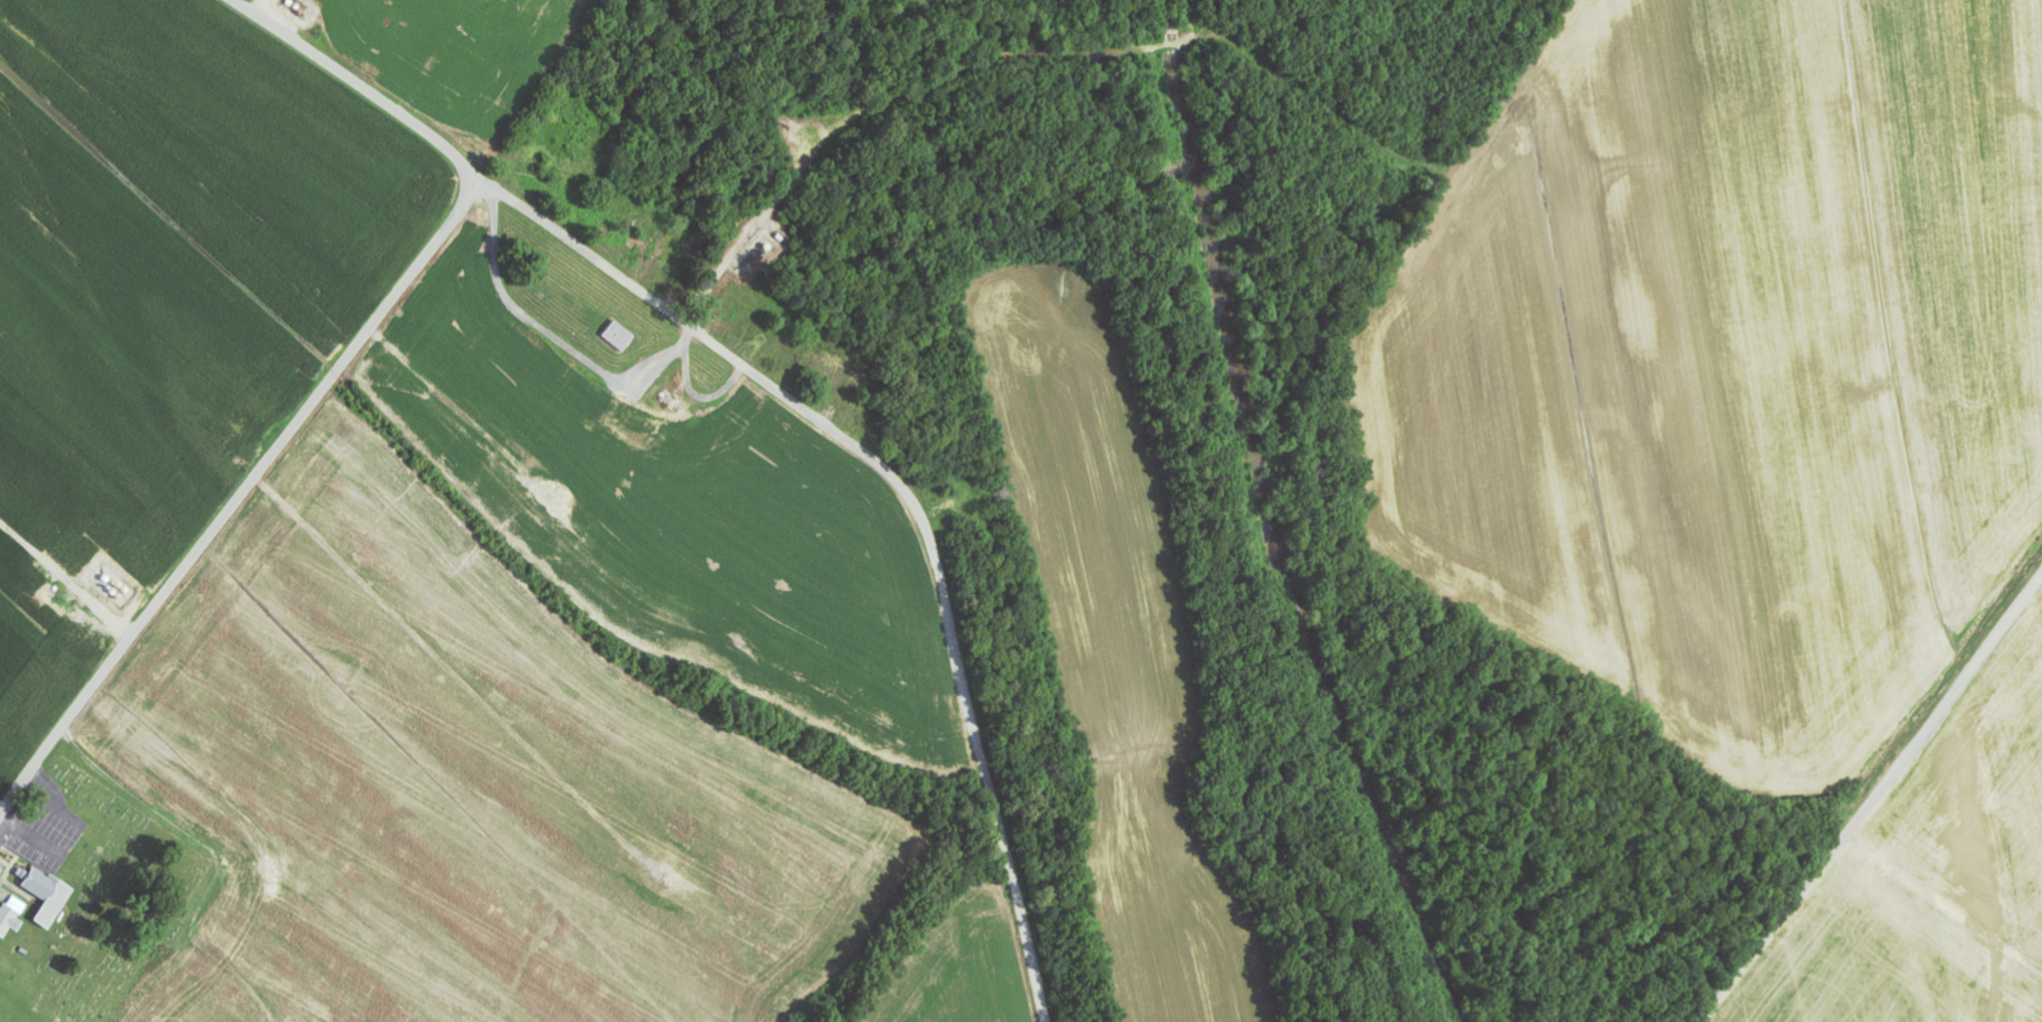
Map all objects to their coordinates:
road: (359, 84)
building: (619, 336)
road: (239, 495)
road: (908, 501)
road: (1873, 801)
building: (48, 896)
park: (109, 903)

